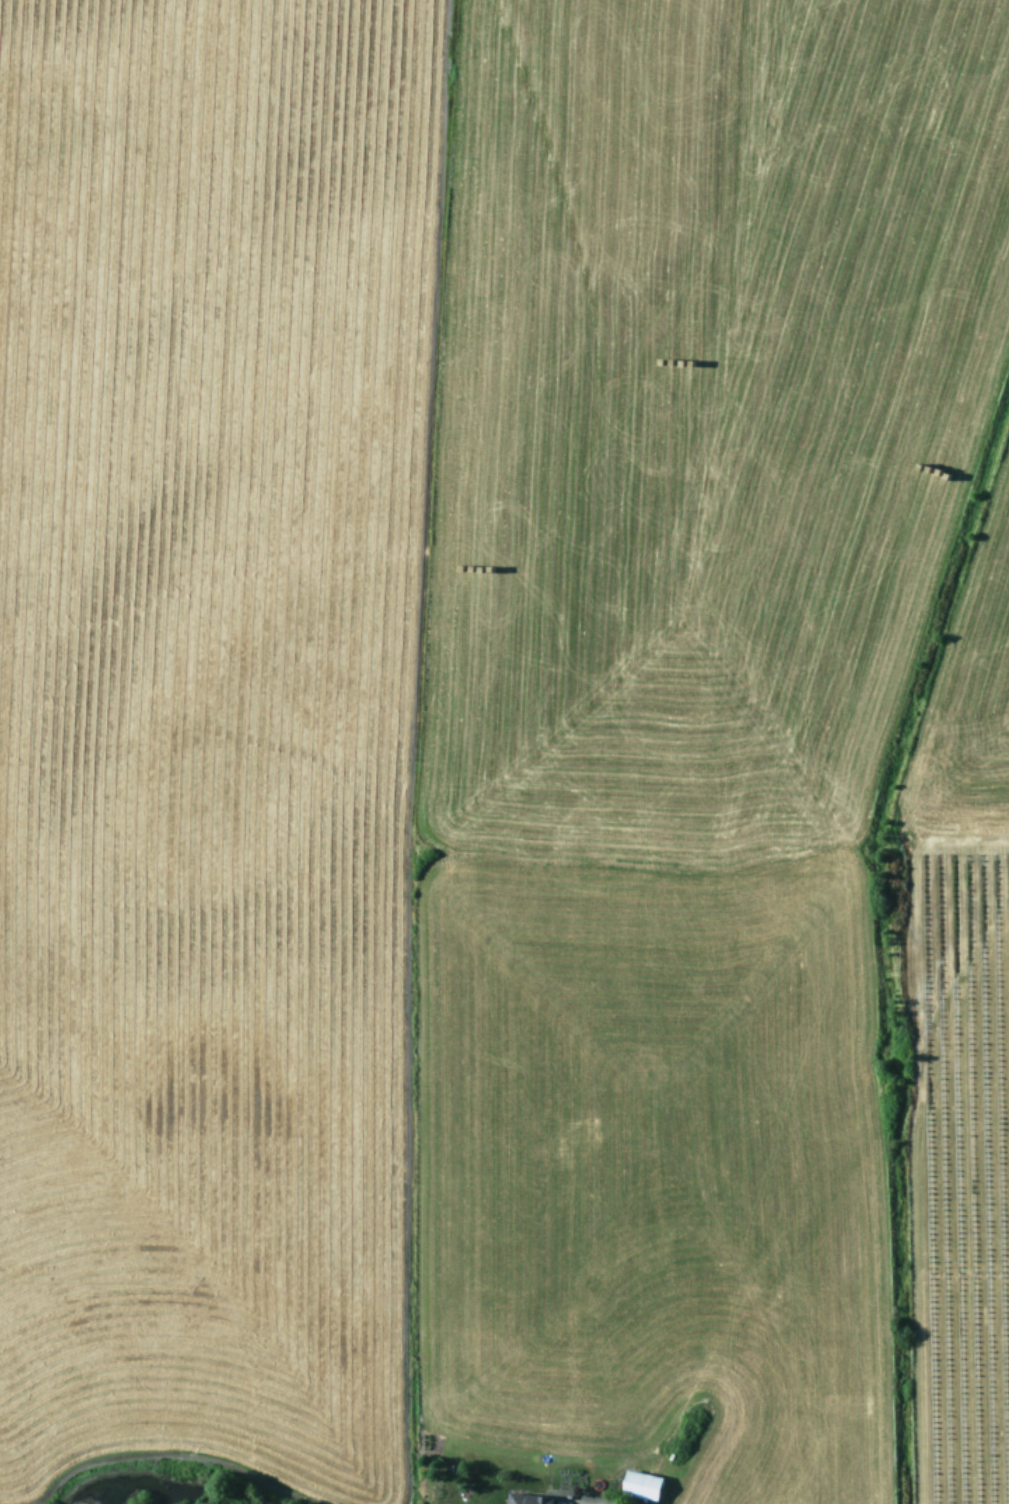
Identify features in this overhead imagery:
crop: (504, 752)
building: (637, 1484)

